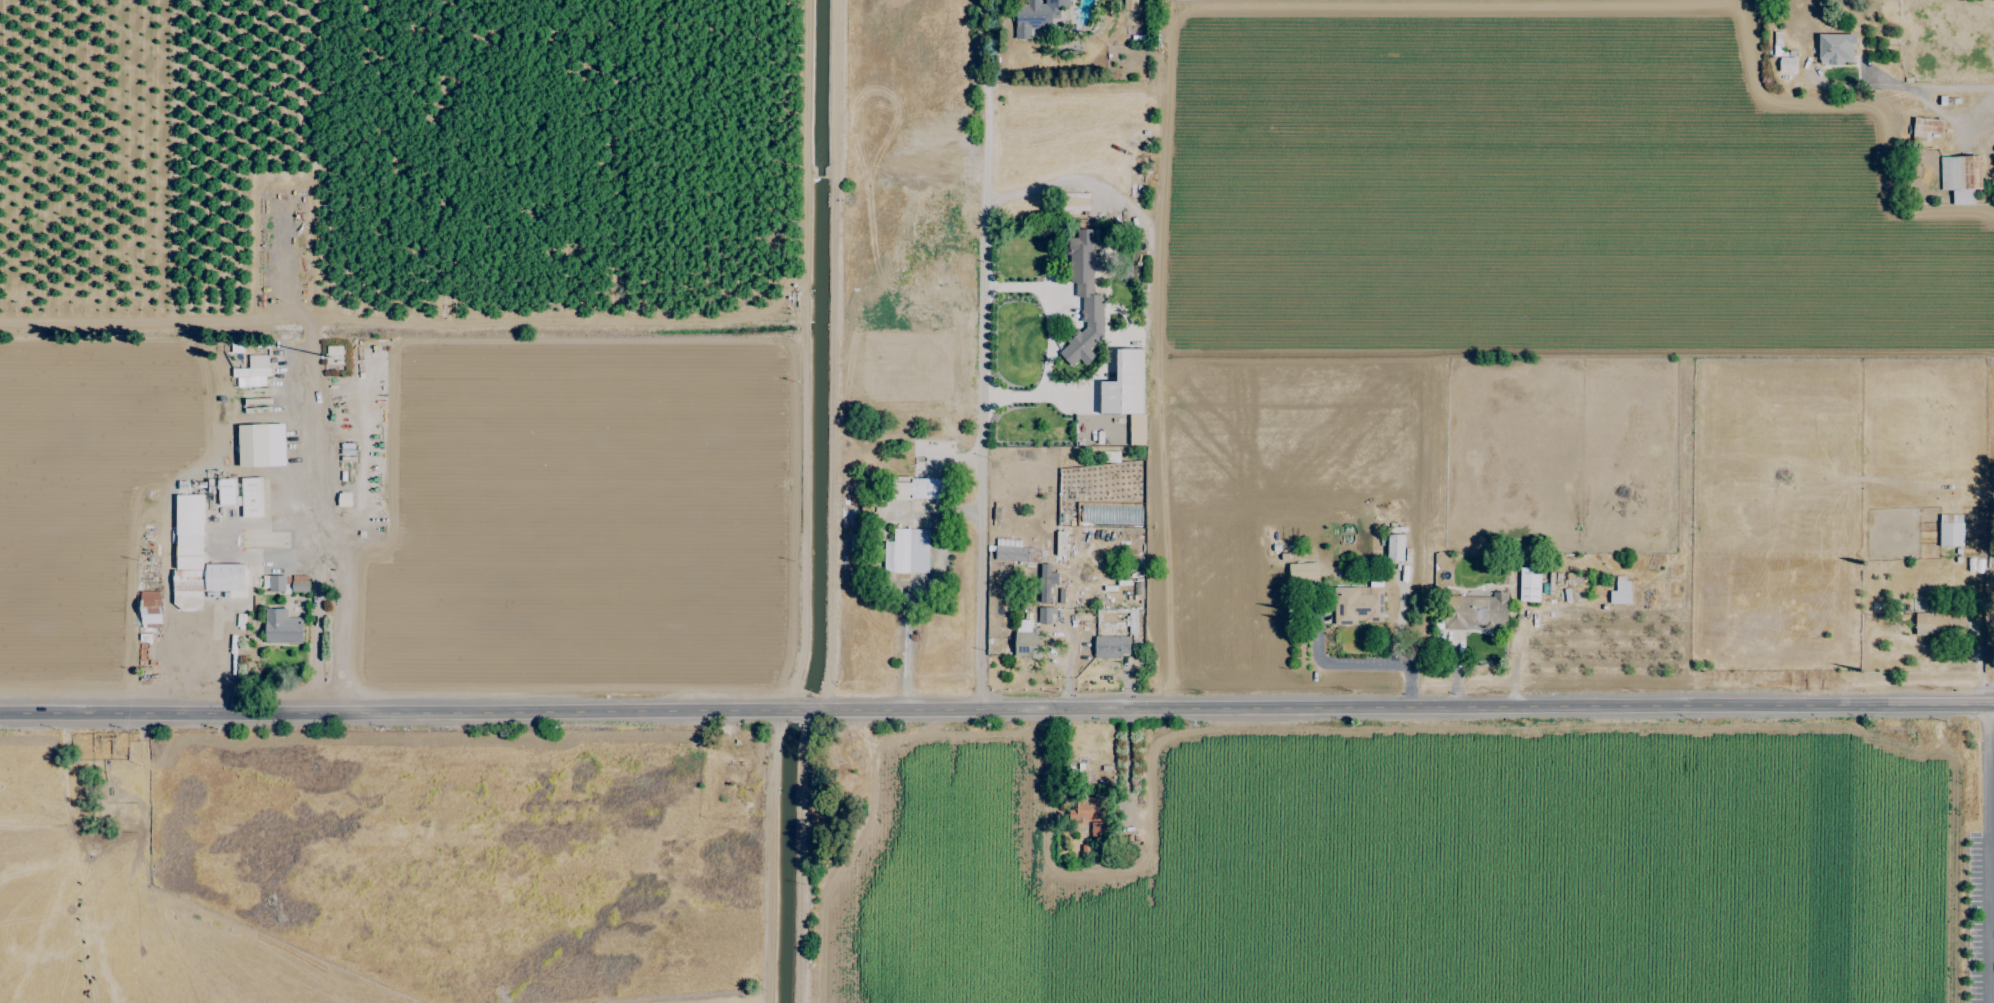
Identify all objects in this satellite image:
building: (1129, 4)
building: (1036, 16)
building: (1835, 49)
building: (1787, 64)
road: (1944, 89)
building: (1924, 129)
building: (1960, 177)
building: (1084, 297)
road: (1050, 341)
road: (982, 354)
building: (252, 372)
building: (1123, 385)
building: (261, 445)
building: (920, 488)
building: (251, 497)
building: (344, 499)
building: (1950, 530)
building: (1060, 543)
building: (1394, 548)
building: (906, 552)
building: (1015, 552)
road: (339, 554)
building: (198, 559)
building: (1302, 571)
building: (1046, 582)
building: (275, 583)
building: (299, 584)
building: (1529, 584)
building: (1620, 591)
building: (1357, 604)
building: (150, 609)
building: (1474, 611)
building: (1045, 615)
road: (1070, 619)
building: (1132, 621)
building: (1934, 624)
building: (281, 627)
road: (1402, 638)
building: (1025, 640)
road: (907, 643)
road: (1050, 646)
building: (1111, 646)
road: (1338, 666)
road: (1414, 708)
road: (418, 710)
road: (1989, 716)
road: (1127, 762)
building: (1090, 814)
road: (817, 855)
road: (1989, 862)
crop: (994, 868)
road: (1992, 868)
road: (1992, 920)

